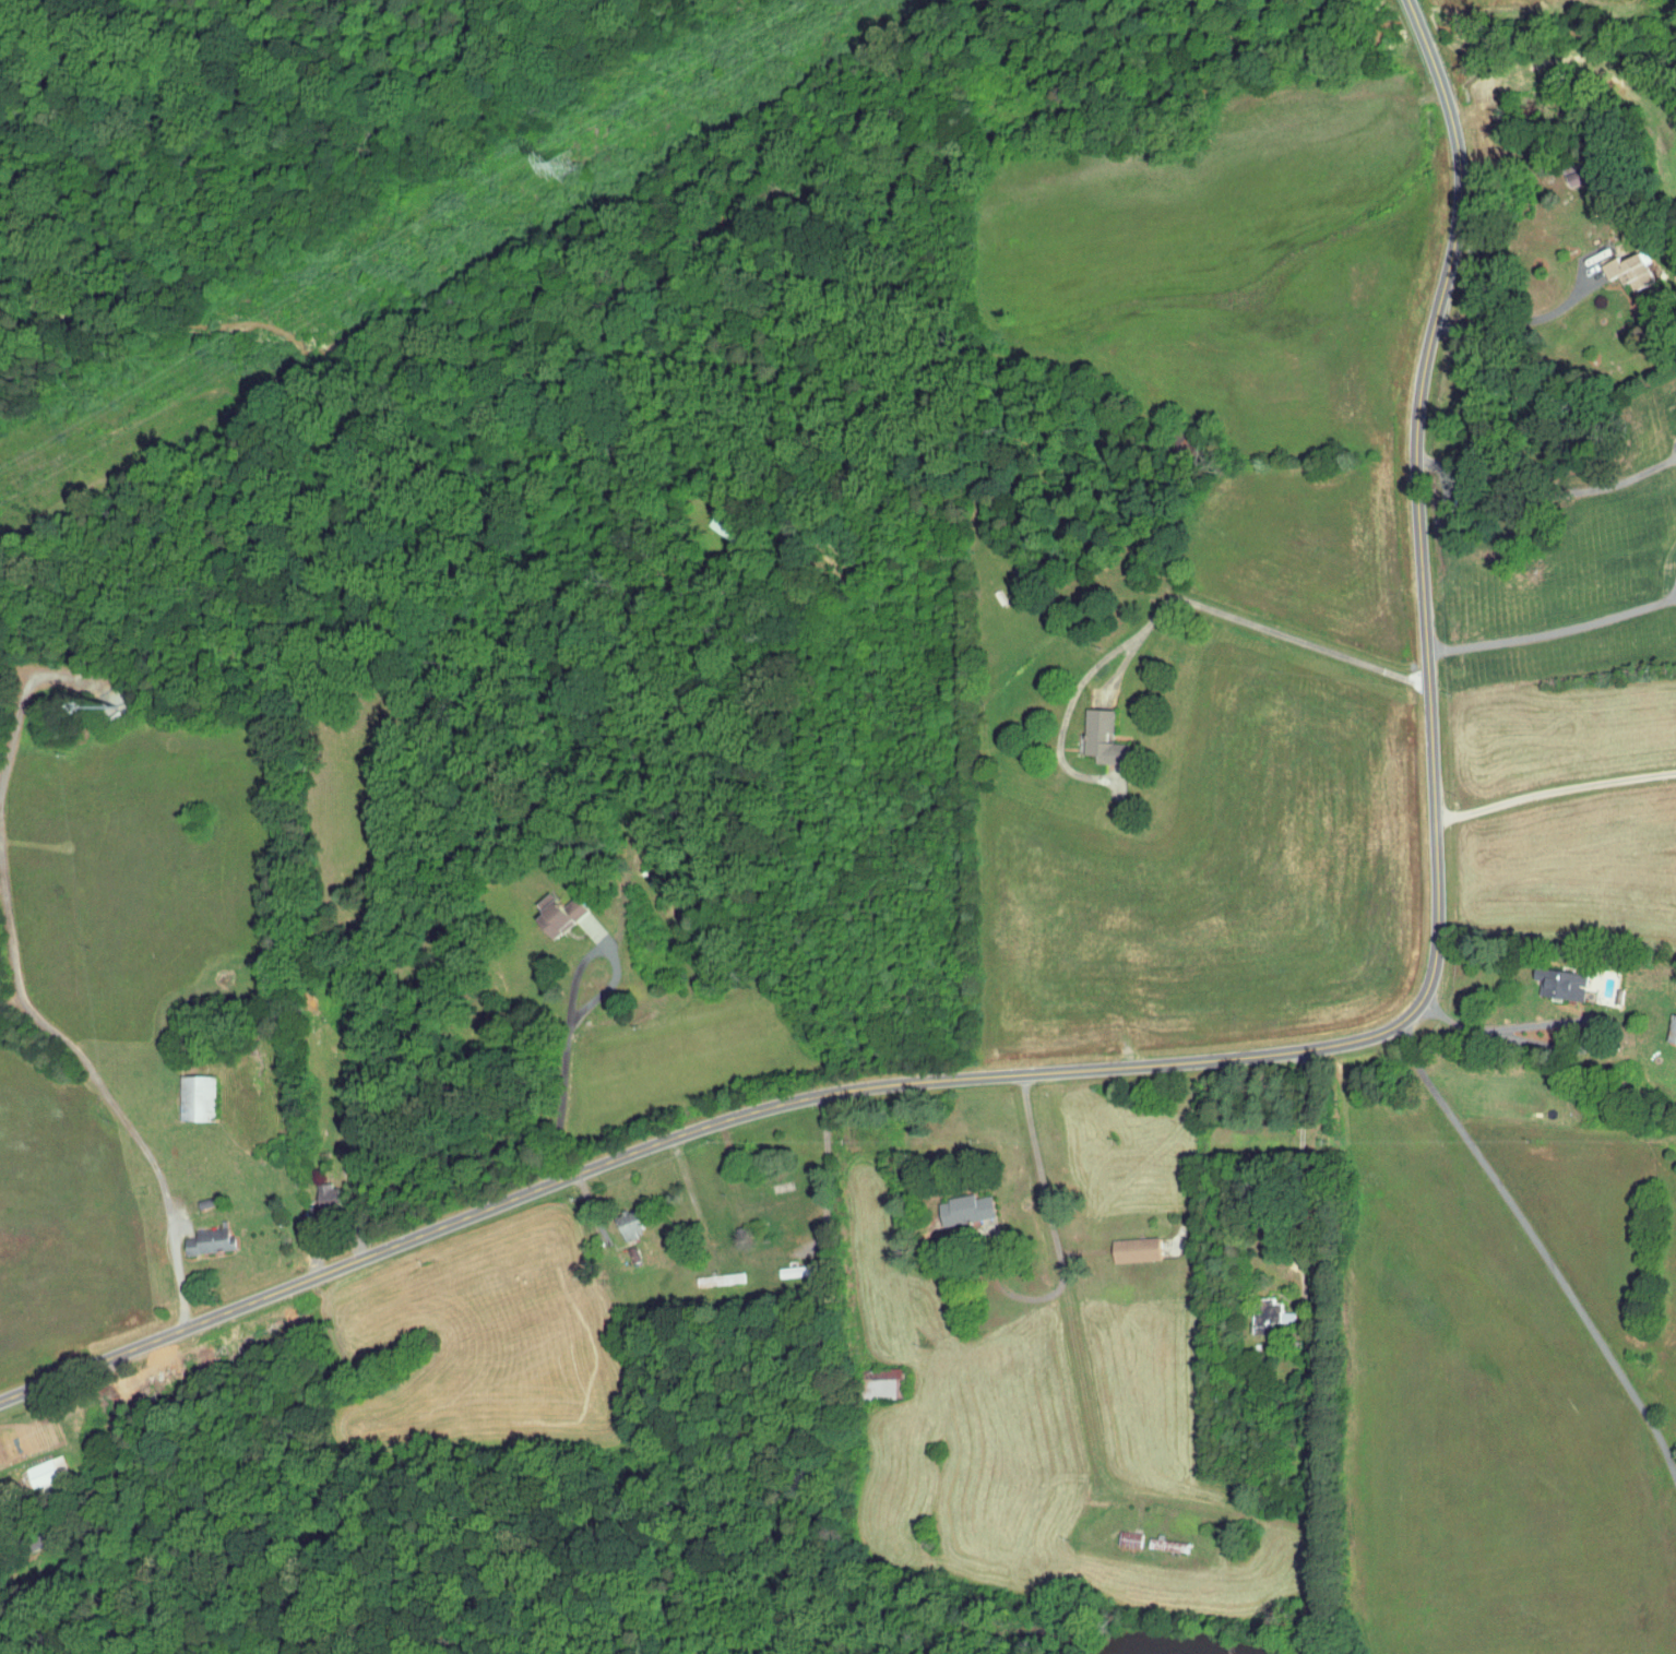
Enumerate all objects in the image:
power tower: (566, 164)
building: (1578, 176)
building: (1631, 270)
road: (1534, 316)
road: (1534, 499)
building: (725, 524)
road: (1250, 621)
road: (1553, 632)
road: (36, 670)
road: (1555, 790)
building: (560, 914)
building: (1568, 986)
road: (569, 1010)
road: (1500, 1025)
building: (1673, 1030)
road: (1197, 1060)
building: (197, 1096)
road: (119, 1103)
road: (1165, 1149)
road: (1301, 1177)
building: (329, 1195)
building: (968, 1210)
building: (630, 1221)
road: (325, 1237)
building: (209, 1240)
road: (1538, 1244)
building: (1137, 1248)
road: (786, 1256)
building: (798, 1270)
road: (213, 1277)
building: (720, 1280)
road: (1010, 1290)
road: (1065, 1309)
building: (1270, 1313)
building: (884, 1382)
road: (22, 1440)
building: (47, 1472)

